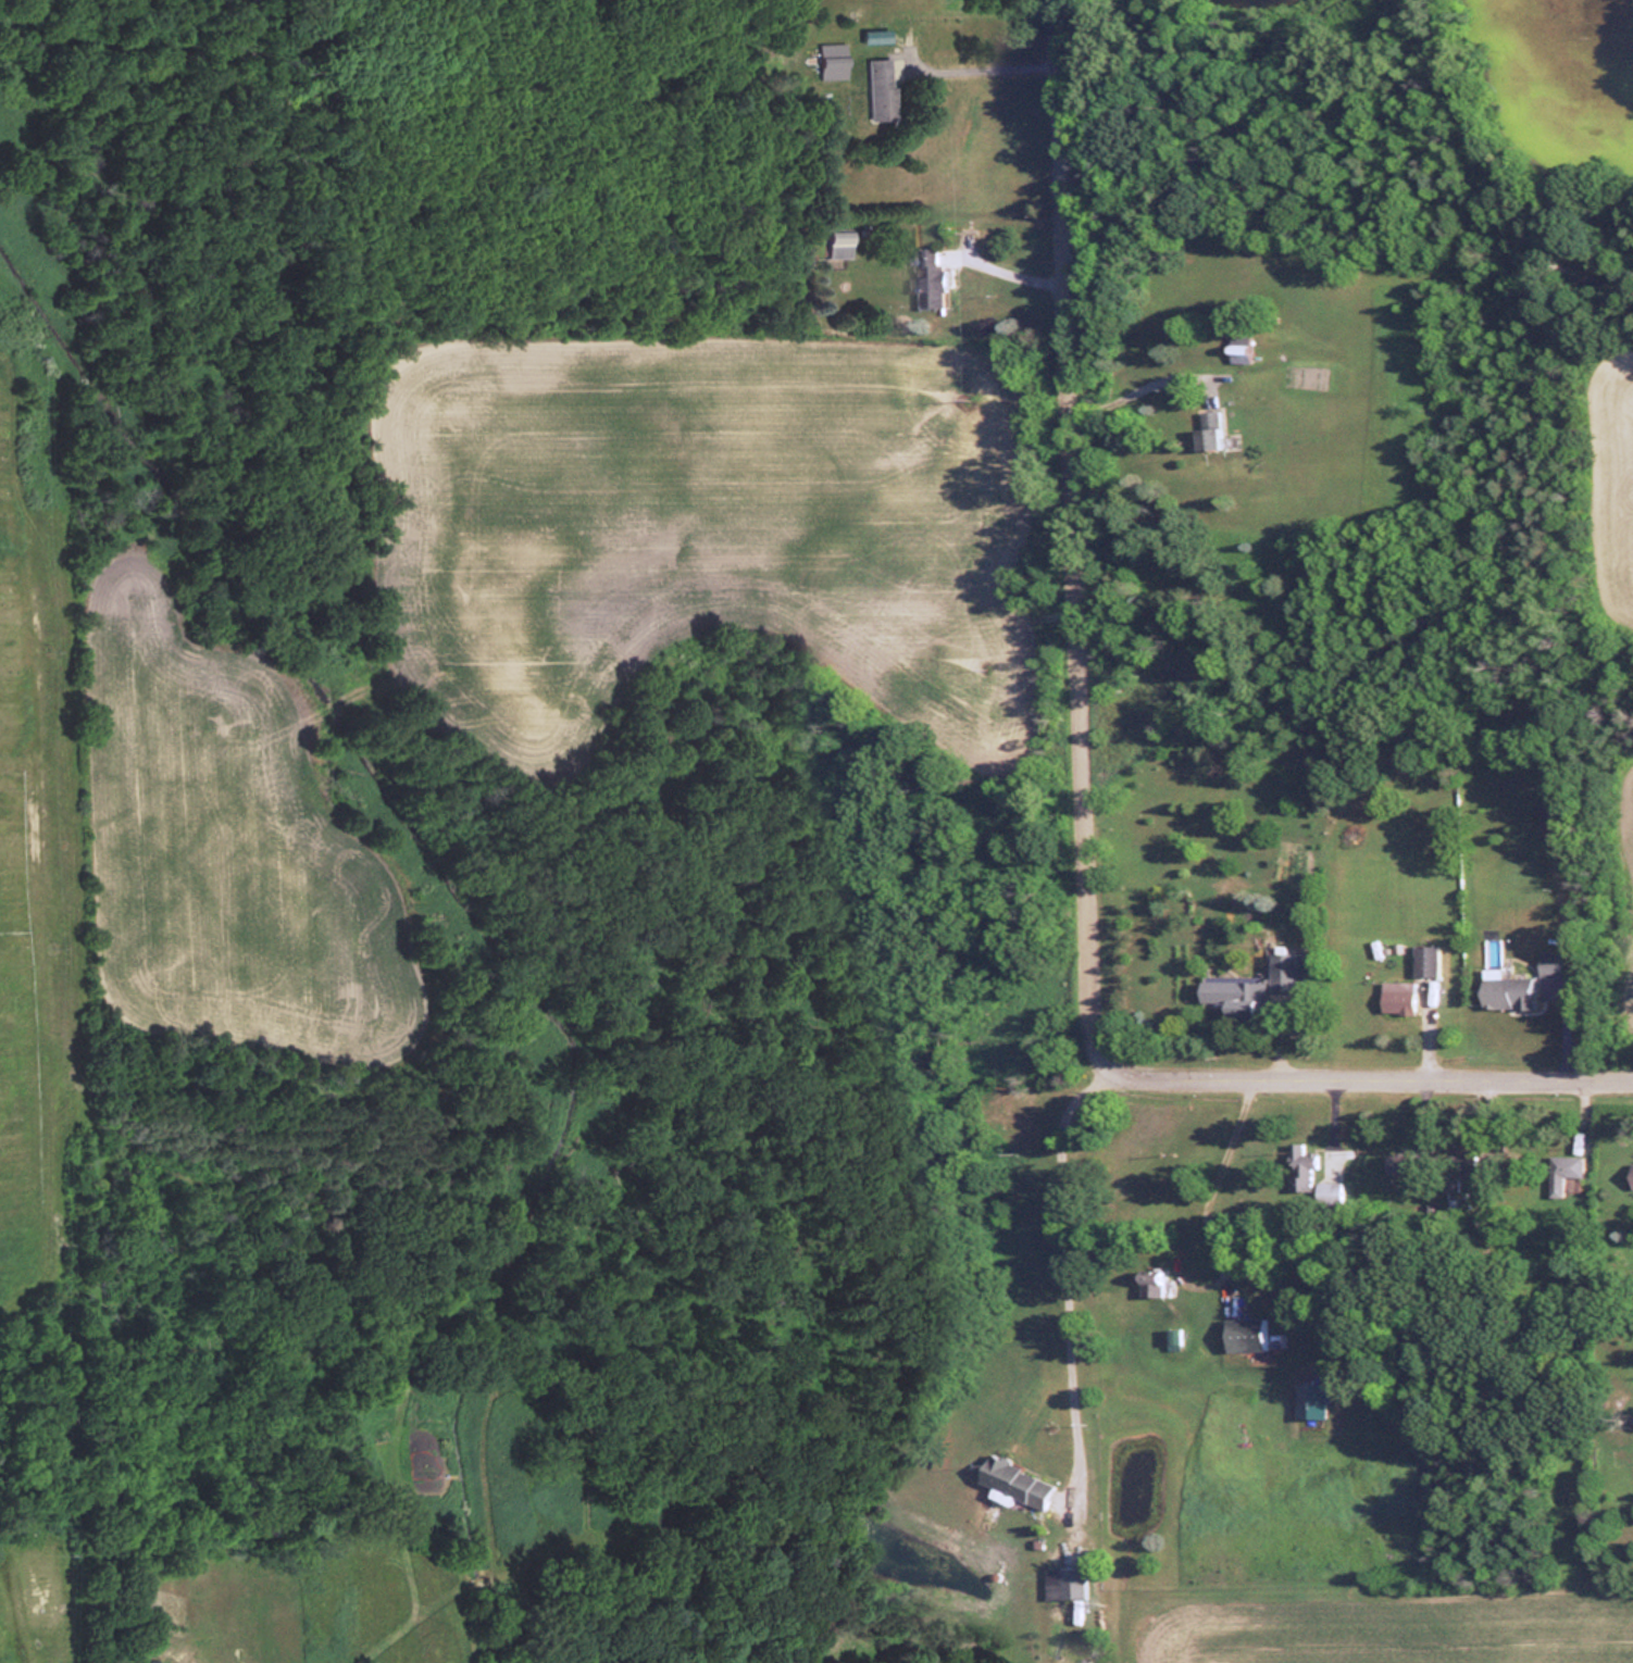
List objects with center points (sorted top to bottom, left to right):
road: (985, 67)
building: (872, 89)
building: (833, 241)
building: (927, 279)
building: (1206, 438)
road: (1083, 797)
building: (1549, 820)
building: (1424, 960)
building: (1548, 964)
building: (1289, 979)
building: (1505, 990)
building: (1397, 997)
building: (1301, 1160)
building: (1398, 1163)
building: (1464, 1170)
building: (1565, 1171)
building: (1630, 1173)
road: (1218, 1175)
road: (1070, 1270)
building: (1245, 1333)
building: (1014, 1480)
building: (1064, 1581)

